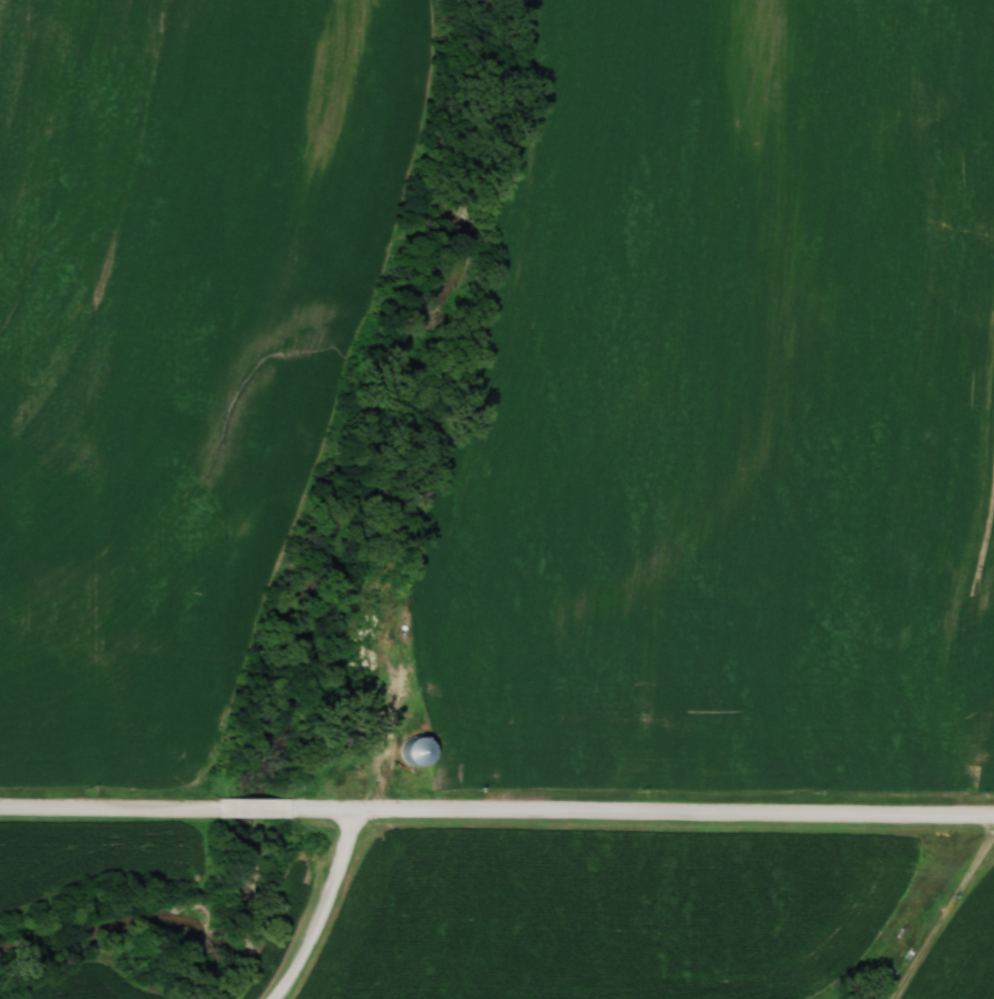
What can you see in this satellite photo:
building: (410, 750)
road: (106, 803)
road: (247, 805)
road: (637, 809)
road: (327, 906)
road: (942, 919)

